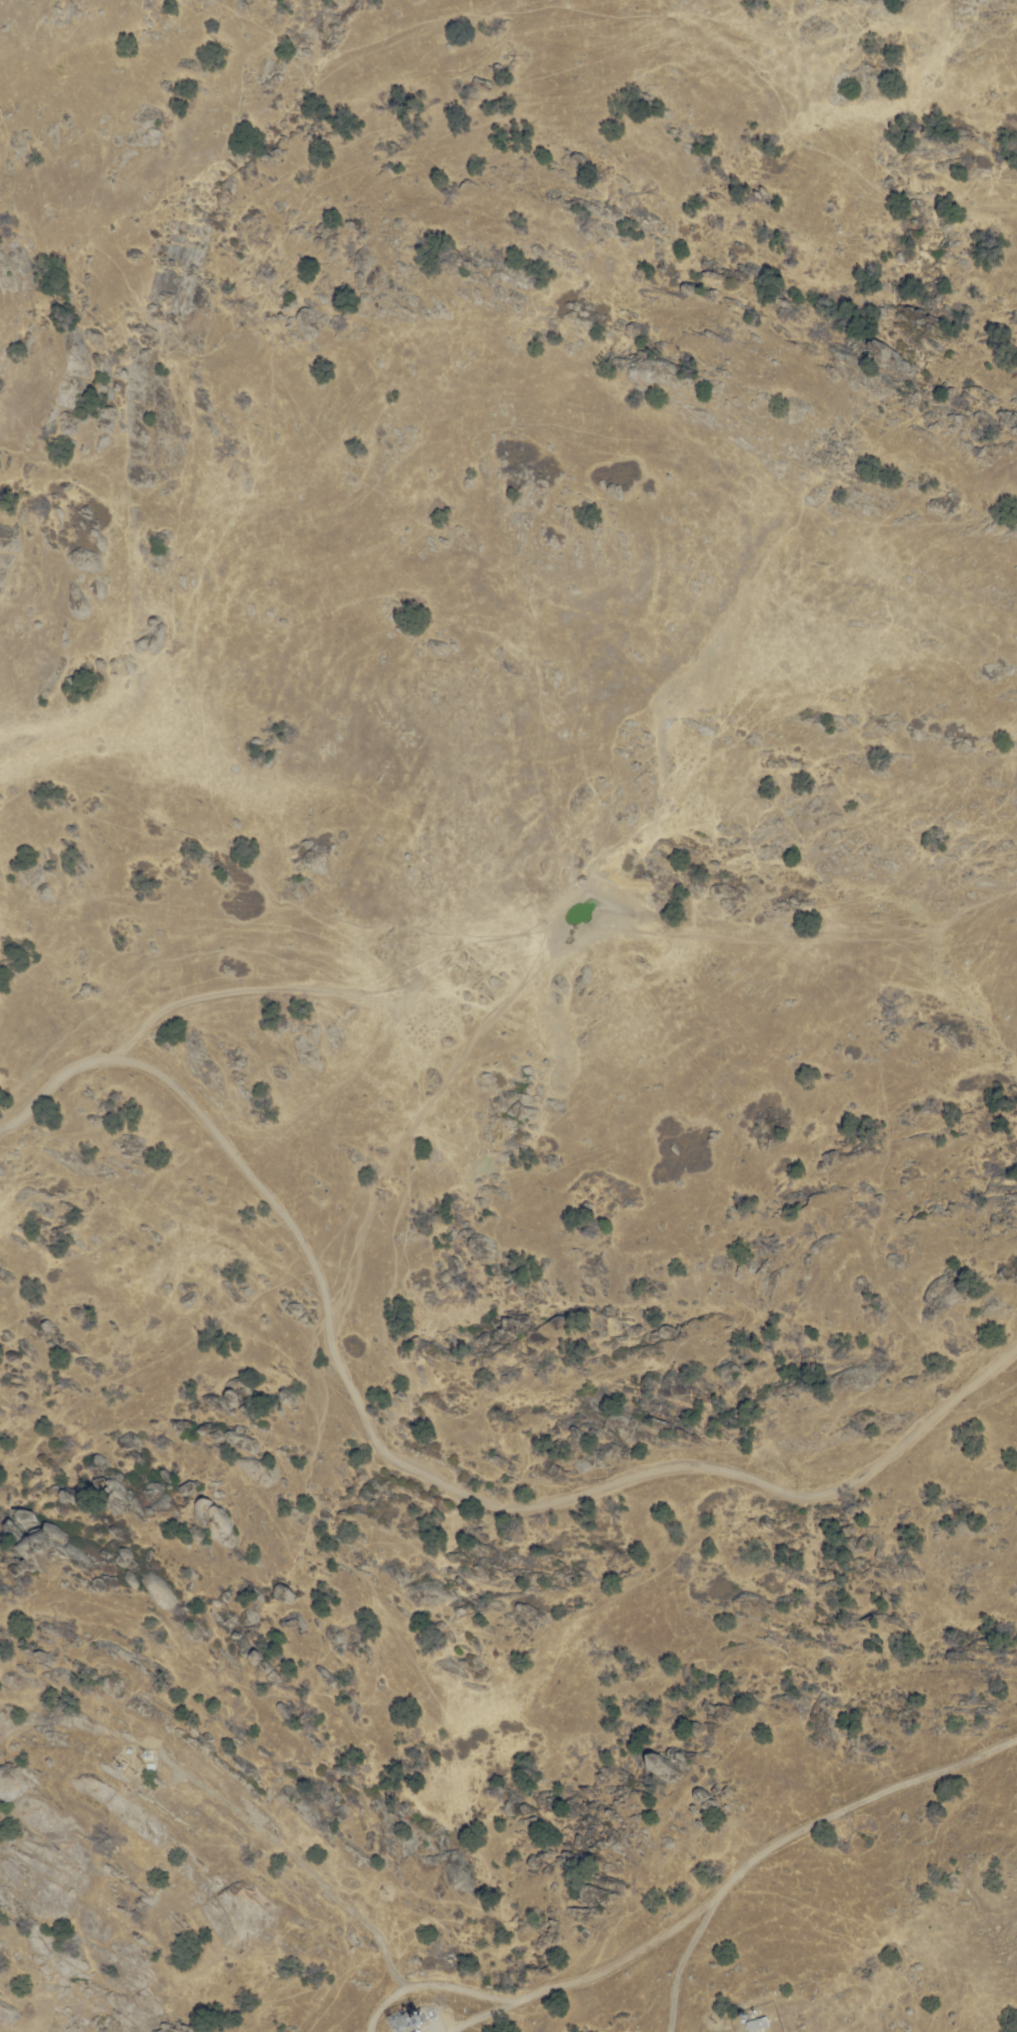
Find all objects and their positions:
road: (414, 1470)
road: (683, 1959)
road: (571, 1982)
road: (387, 2002)
road: (484, 2014)
building: (756, 2025)
building: (419, 2031)

